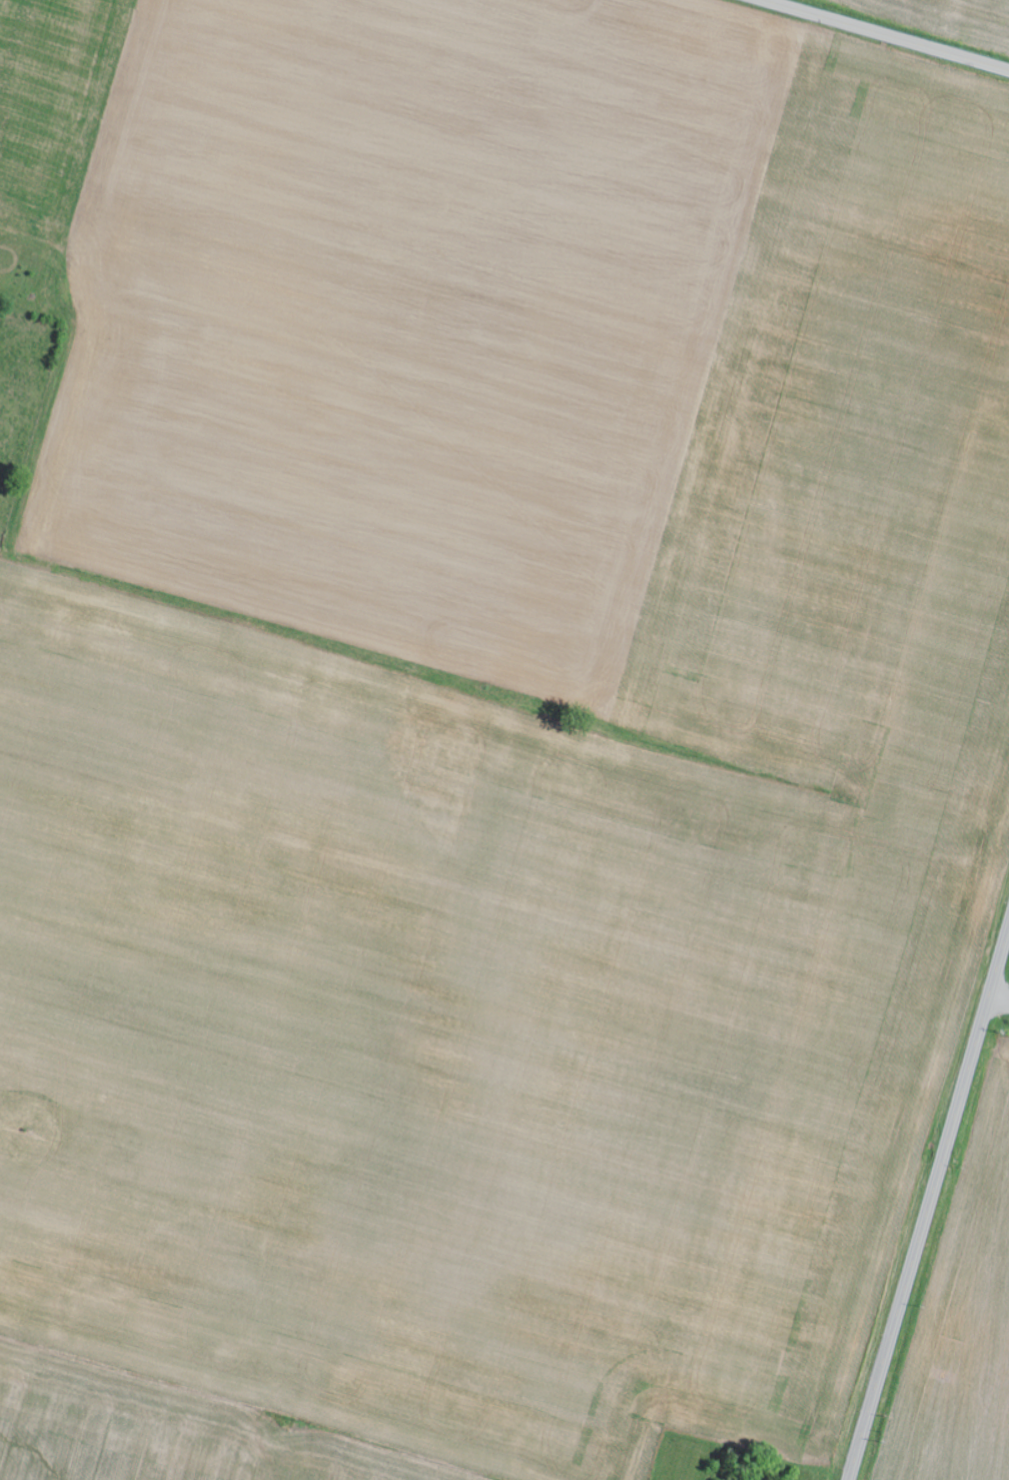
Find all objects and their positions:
road: (883, 35)
road: (999, 999)
road: (929, 1203)

